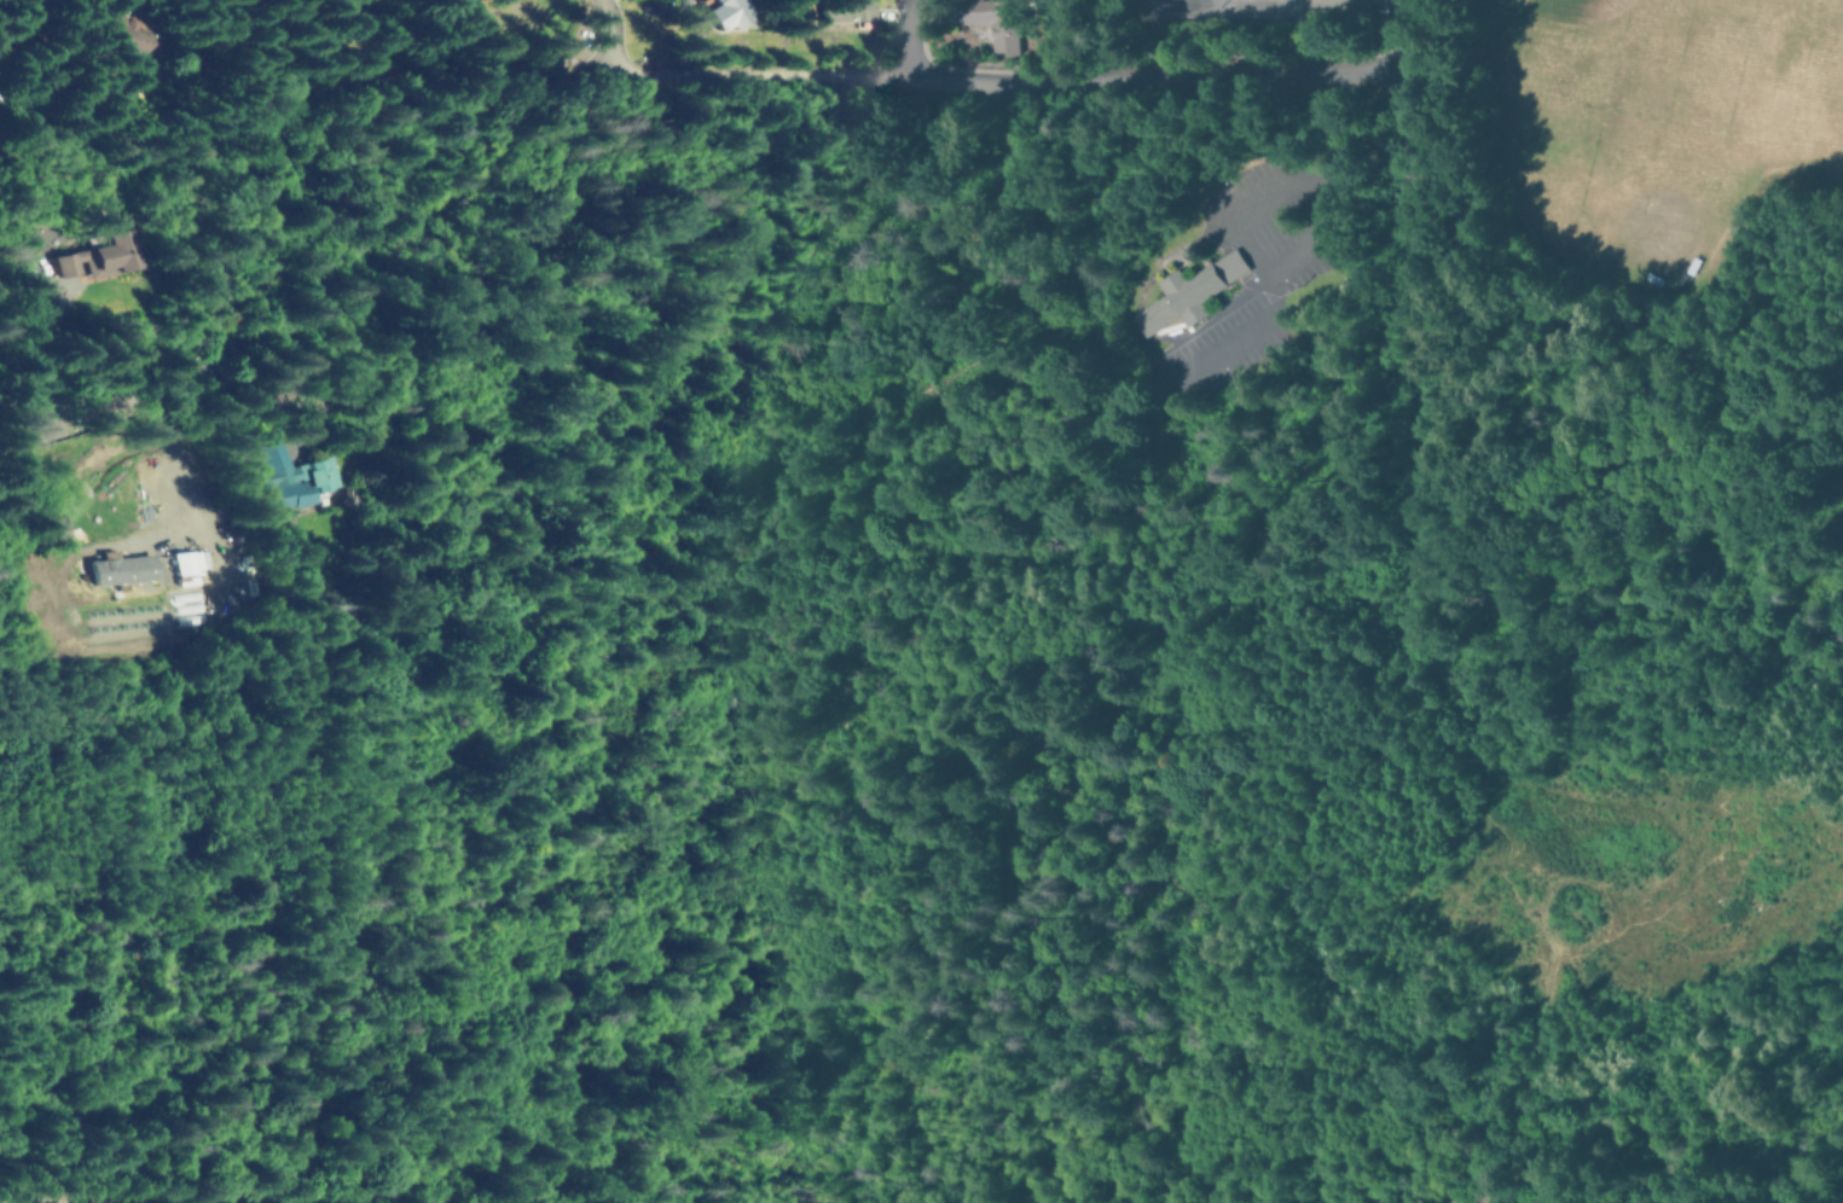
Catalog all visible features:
power substation: (1219, 4)
building: (846, 8)
building: (728, 11)
building: (989, 13)
building: (164, 34)
road: (613, 34)
road: (909, 37)
park: (1592, 41)
park: (1816, 66)
road: (761, 76)
road: (1161, 77)
road: (1415, 167)
road: (257, 188)
road: (1250, 193)
park: (1652, 194)
building: (116, 256)
building: (1186, 290)
parking lot: (1238, 318)
road: (1242, 331)
road: (197, 455)
building: (306, 476)
building: (203, 562)
building: (137, 569)

